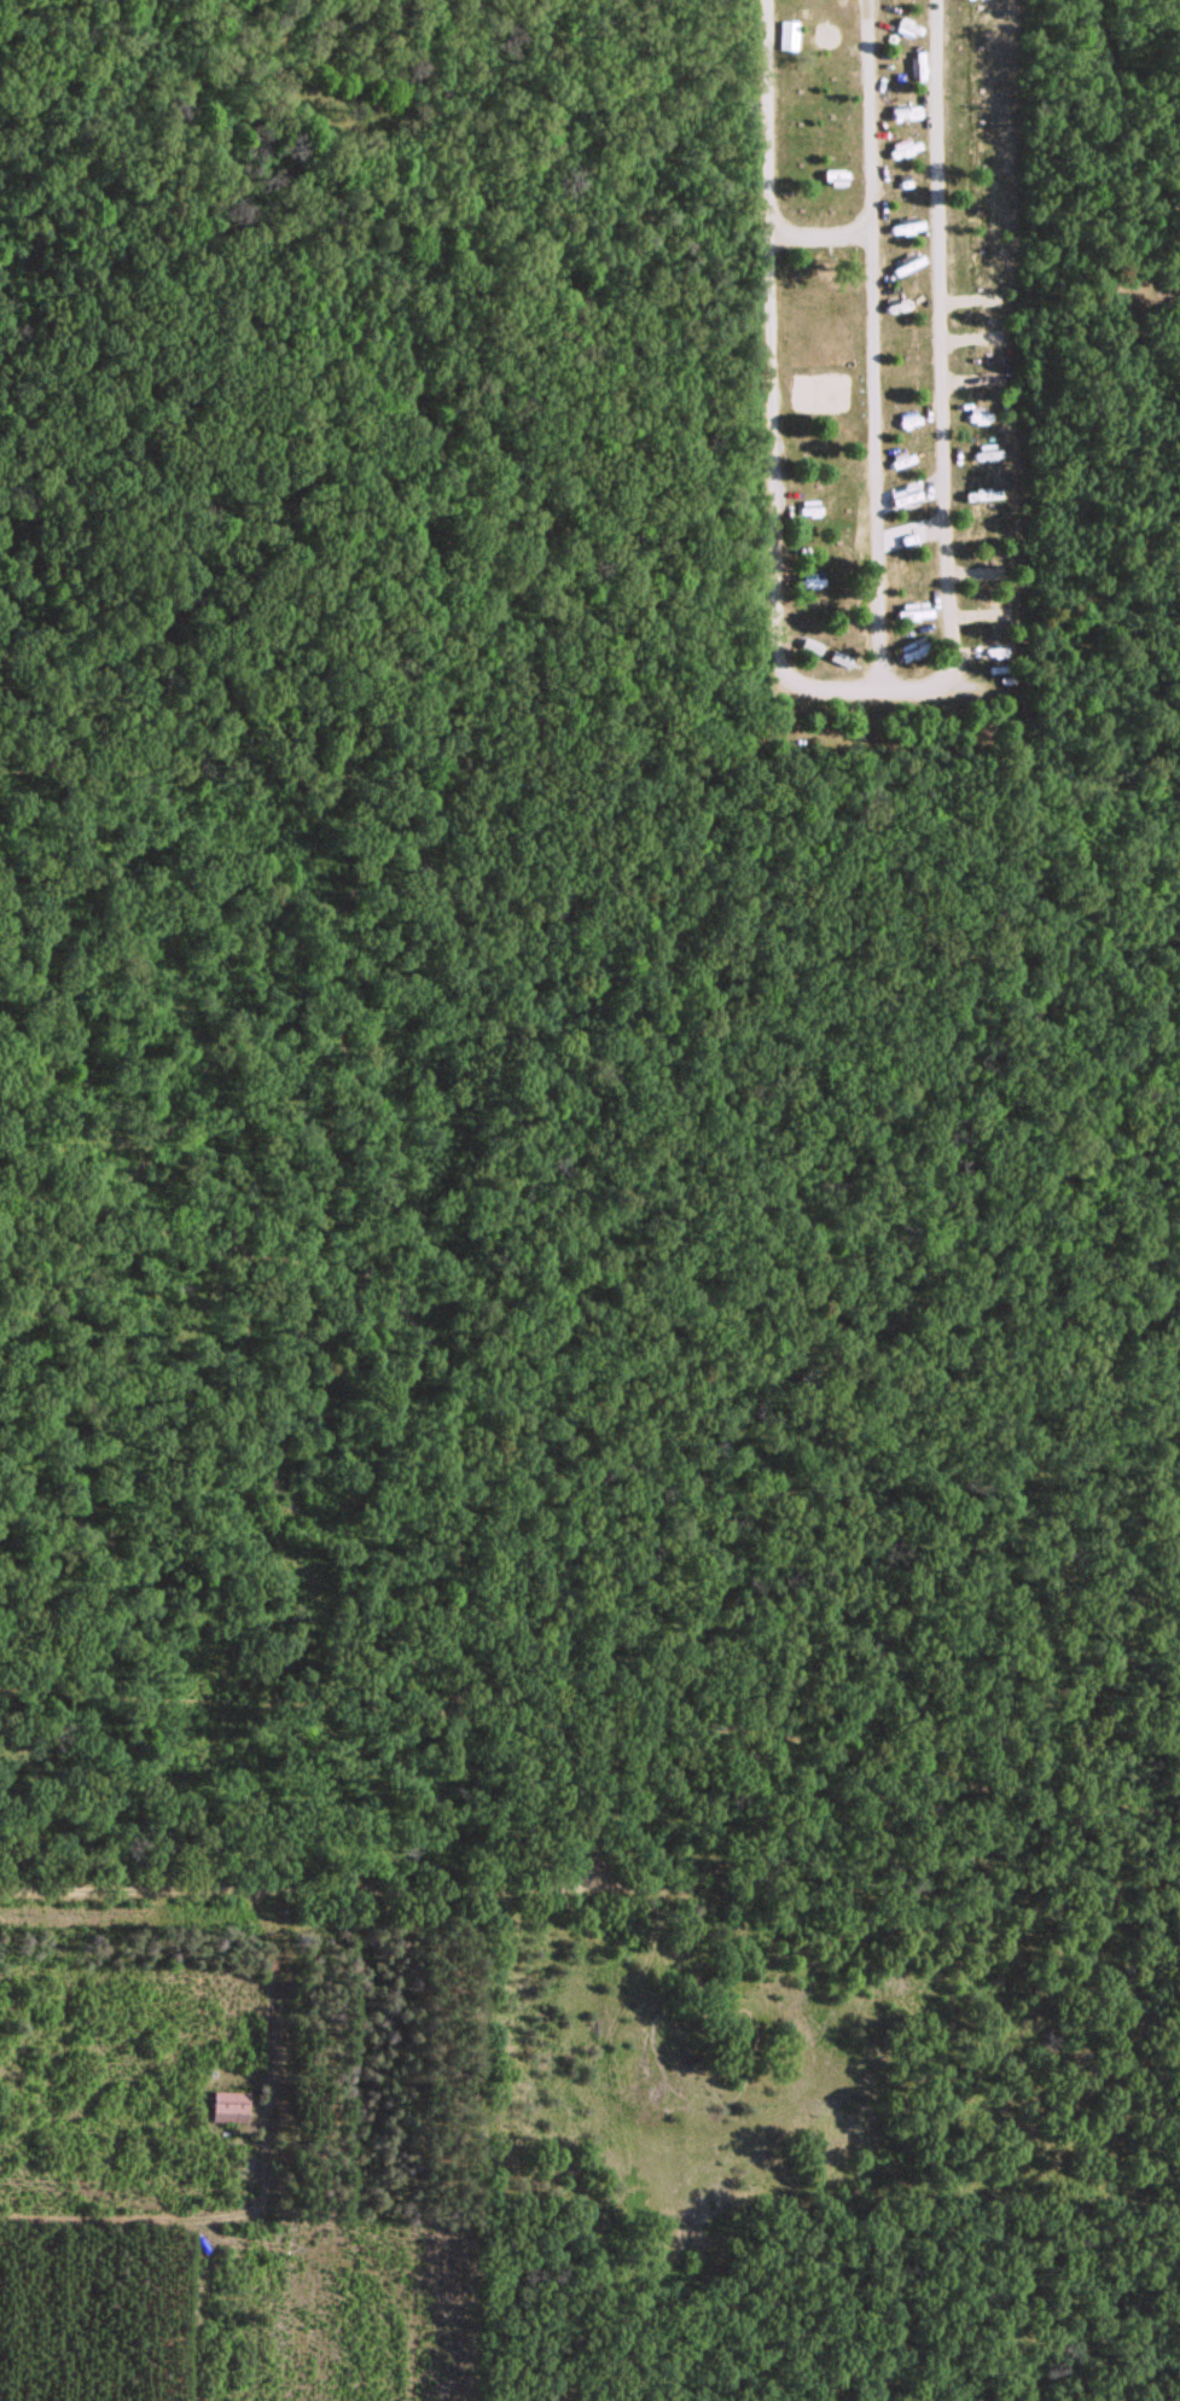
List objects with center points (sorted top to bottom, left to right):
road: (1157, 126)
road: (819, 229)
building: (1178, 260)
road: (873, 457)
road: (949, 644)
road: (963, 682)
road: (595, 1894)
building: (228, 2104)

